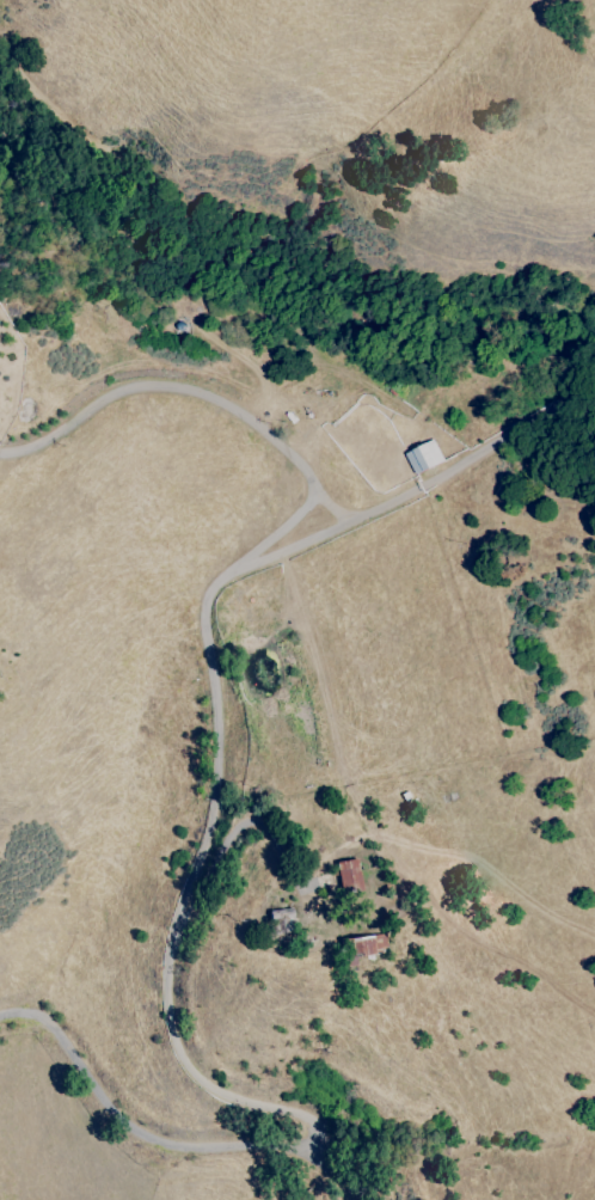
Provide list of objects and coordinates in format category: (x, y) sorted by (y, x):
building: (423, 458)
road: (472, 459)
road: (207, 633)
building: (348, 875)
building: (368, 945)
road: (135, 1134)
road: (329, 1174)

